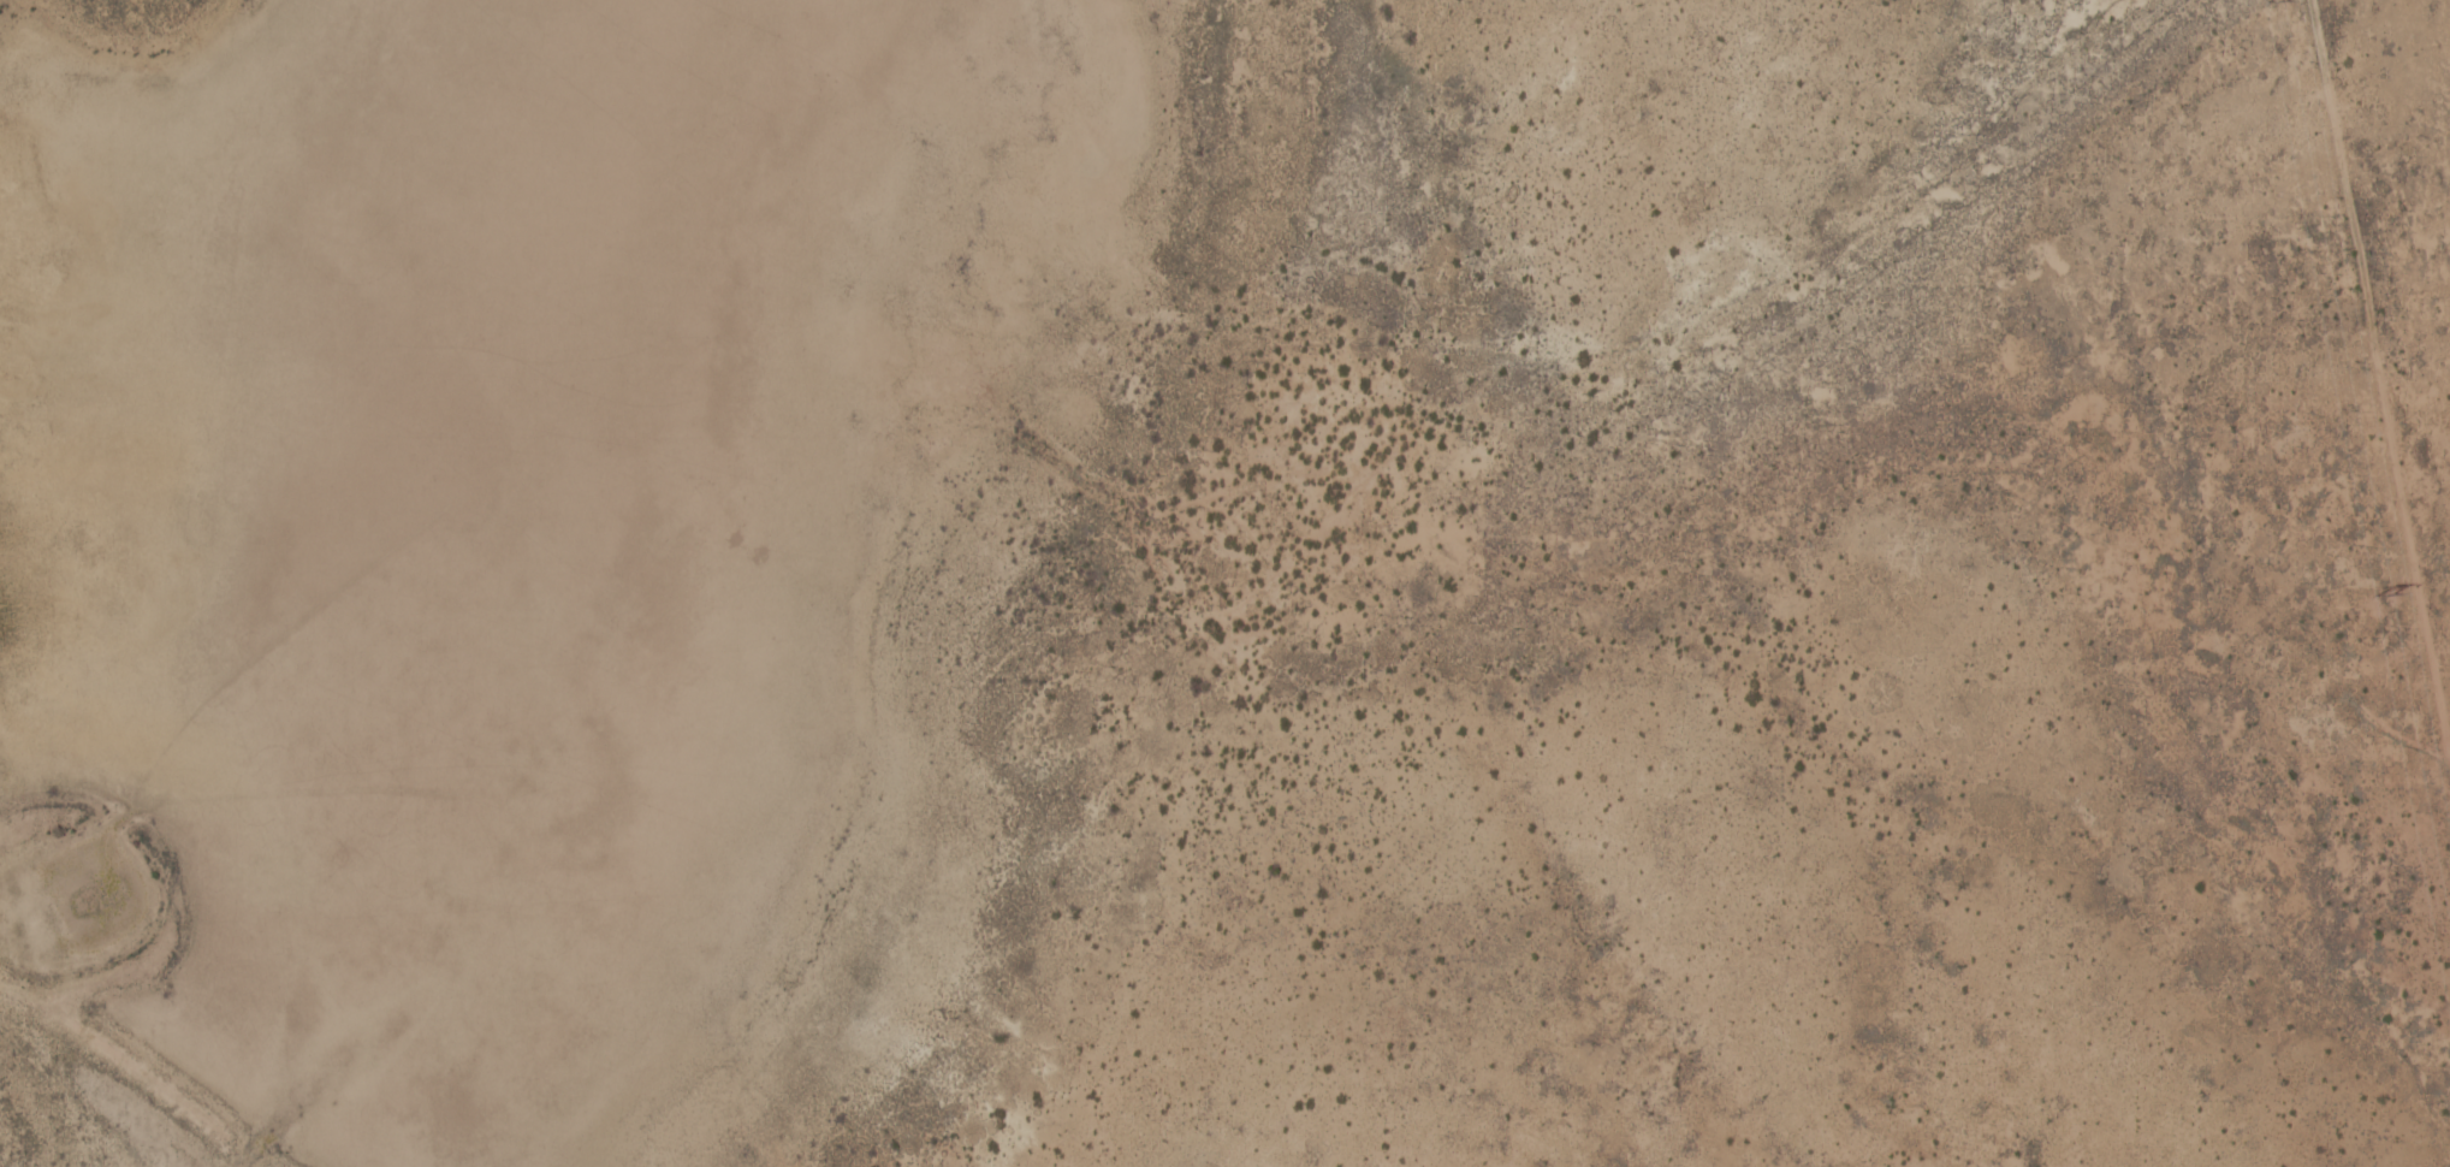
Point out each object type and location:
power tower: (2279, 4)
road: (2425, 124)
power tower: (2387, 599)

